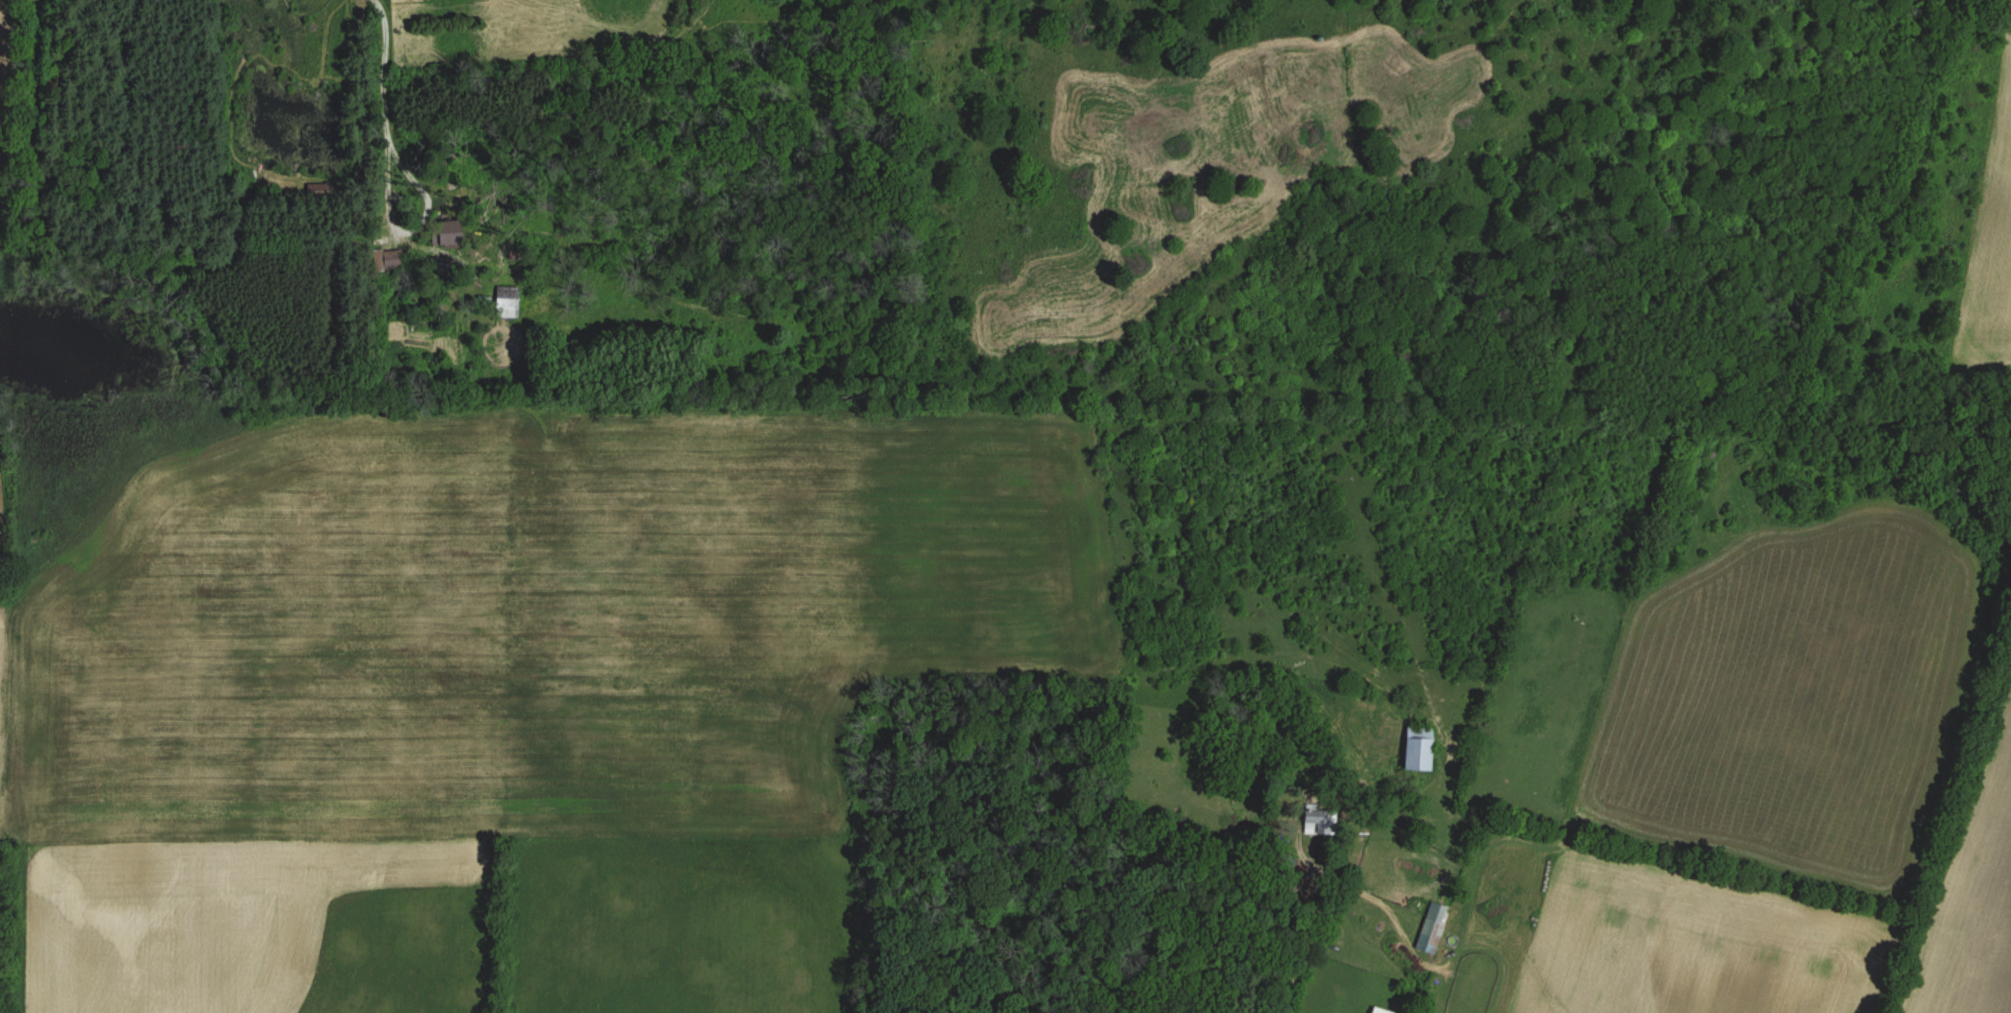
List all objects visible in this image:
road: (385, 100)
building: (1414, 750)
building: (1315, 822)
building: (1430, 929)
road: (1297, 945)

